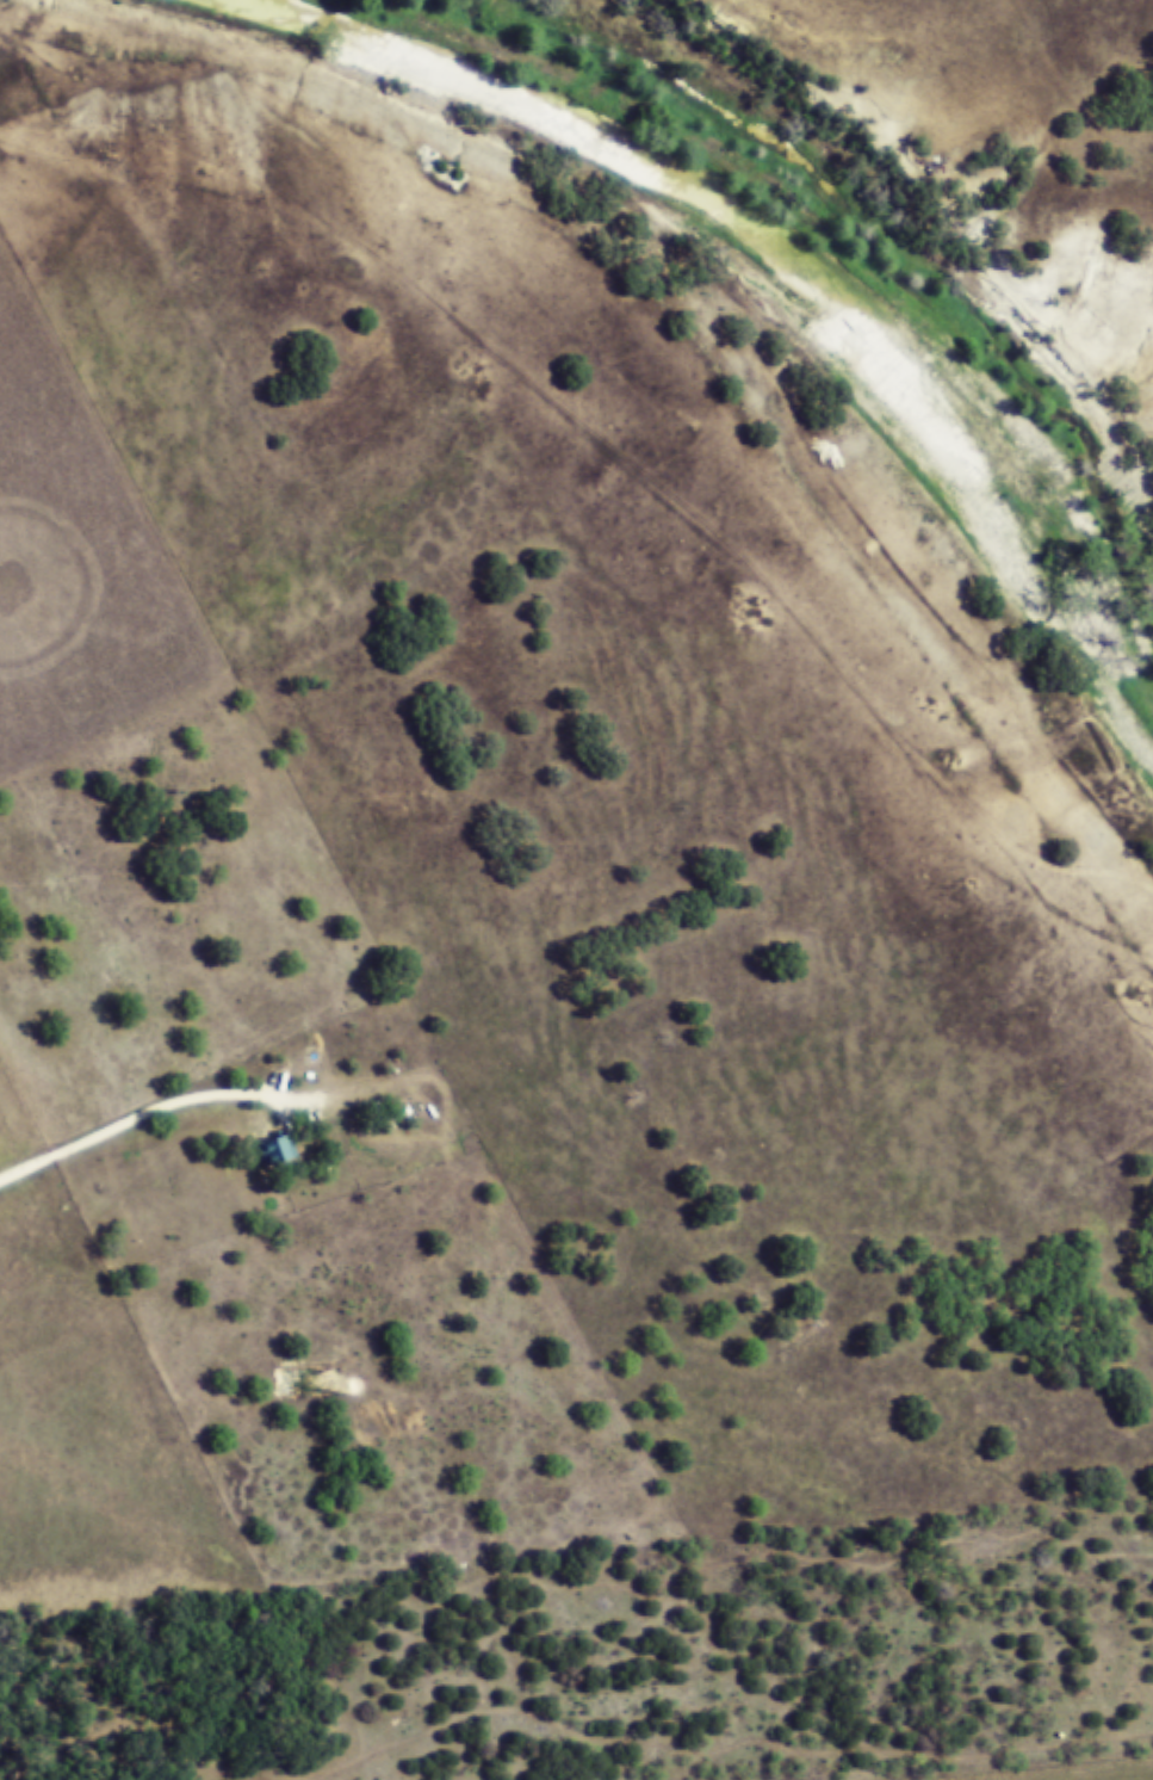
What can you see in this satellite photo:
river: (805, 255)
building: (281, 1150)

